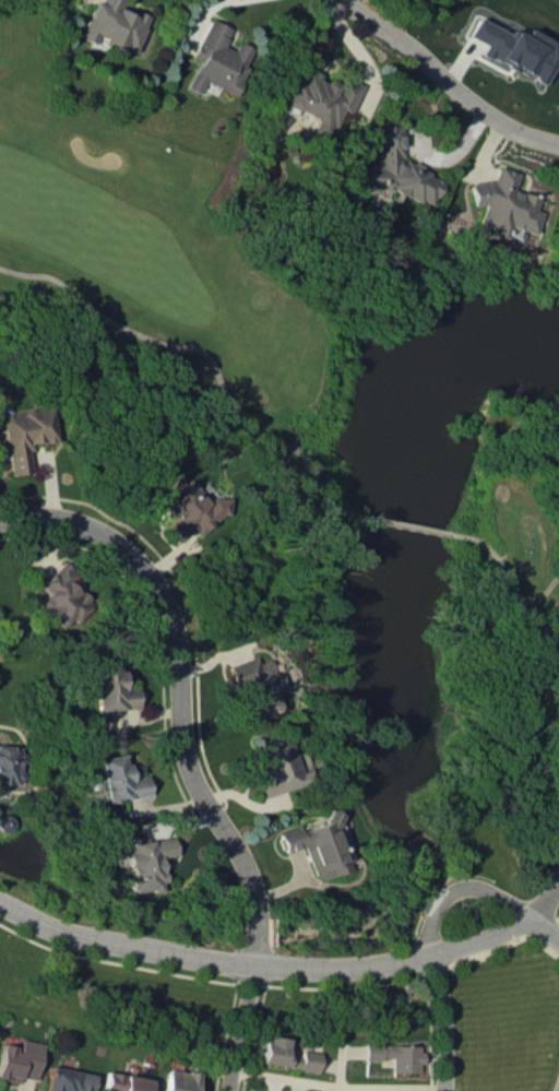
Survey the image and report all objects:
building: (112, 24)
building: (518, 48)
building: (215, 59)
road: (449, 79)
building: (320, 97)
building: (394, 168)
building: (503, 203)
road: (121, 324)
building: (22, 435)
road: (297, 452)
building: (187, 508)
road: (405, 523)
road: (502, 578)
building: (60, 596)
building: (257, 684)
building: (110, 687)
road: (183, 755)
building: (10, 762)
building: (277, 764)
building: (117, 779)
building: (320, 845)
building: (143, 861)
road: (456, 886)
road: (544, 898)
road: (283, 965)
road: (441, 1021)
building: (285, 1054)
building: (395, 1055)
building: (19, 1059)
building: (66, 1079)
building: (177, 1080)
building: (122, 1082)
road: (335, 1086)

